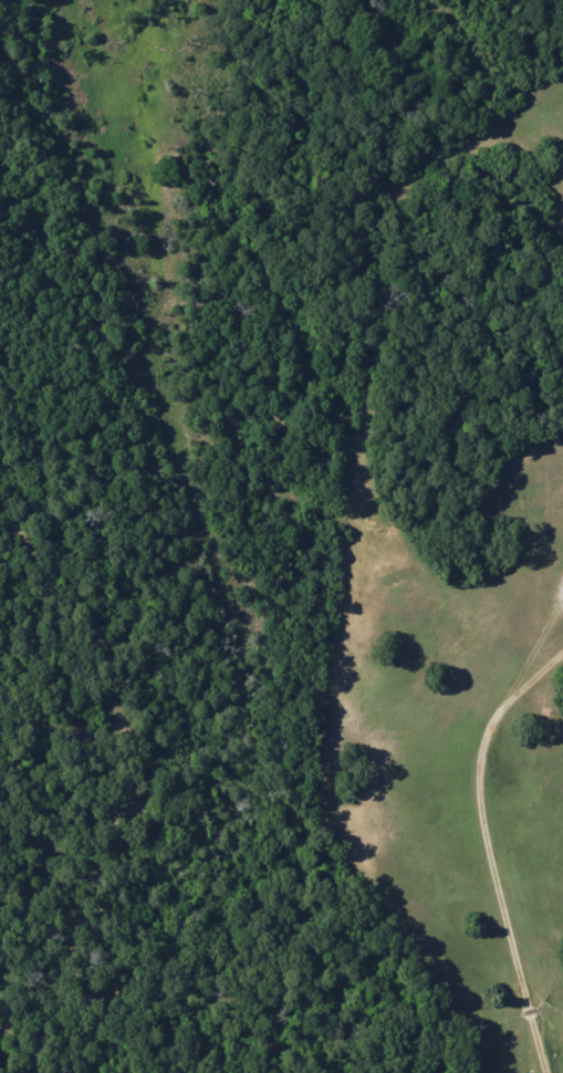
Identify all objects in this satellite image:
road: (514, 944)

